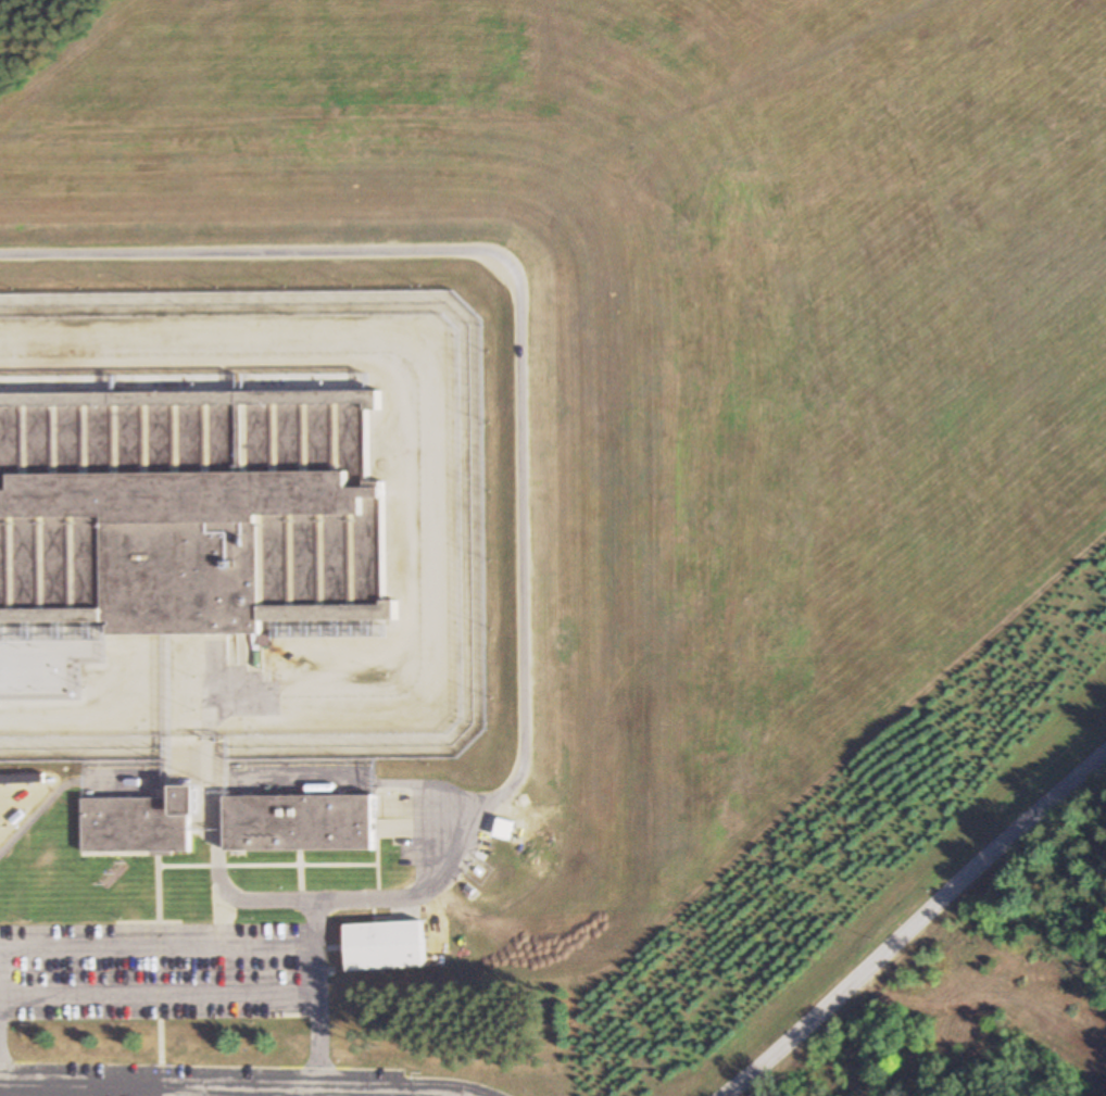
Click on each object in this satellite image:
road: (520, 487)
building: (192, 513)
road: (64, 785)
building: (137, 820)
building: (298, 821)
road: (215, 864)
road: (913, 924)
building: (381, 944)
parking lot: (154, 972)
parking lot: (204, 1081)
road: (231, 1087)

